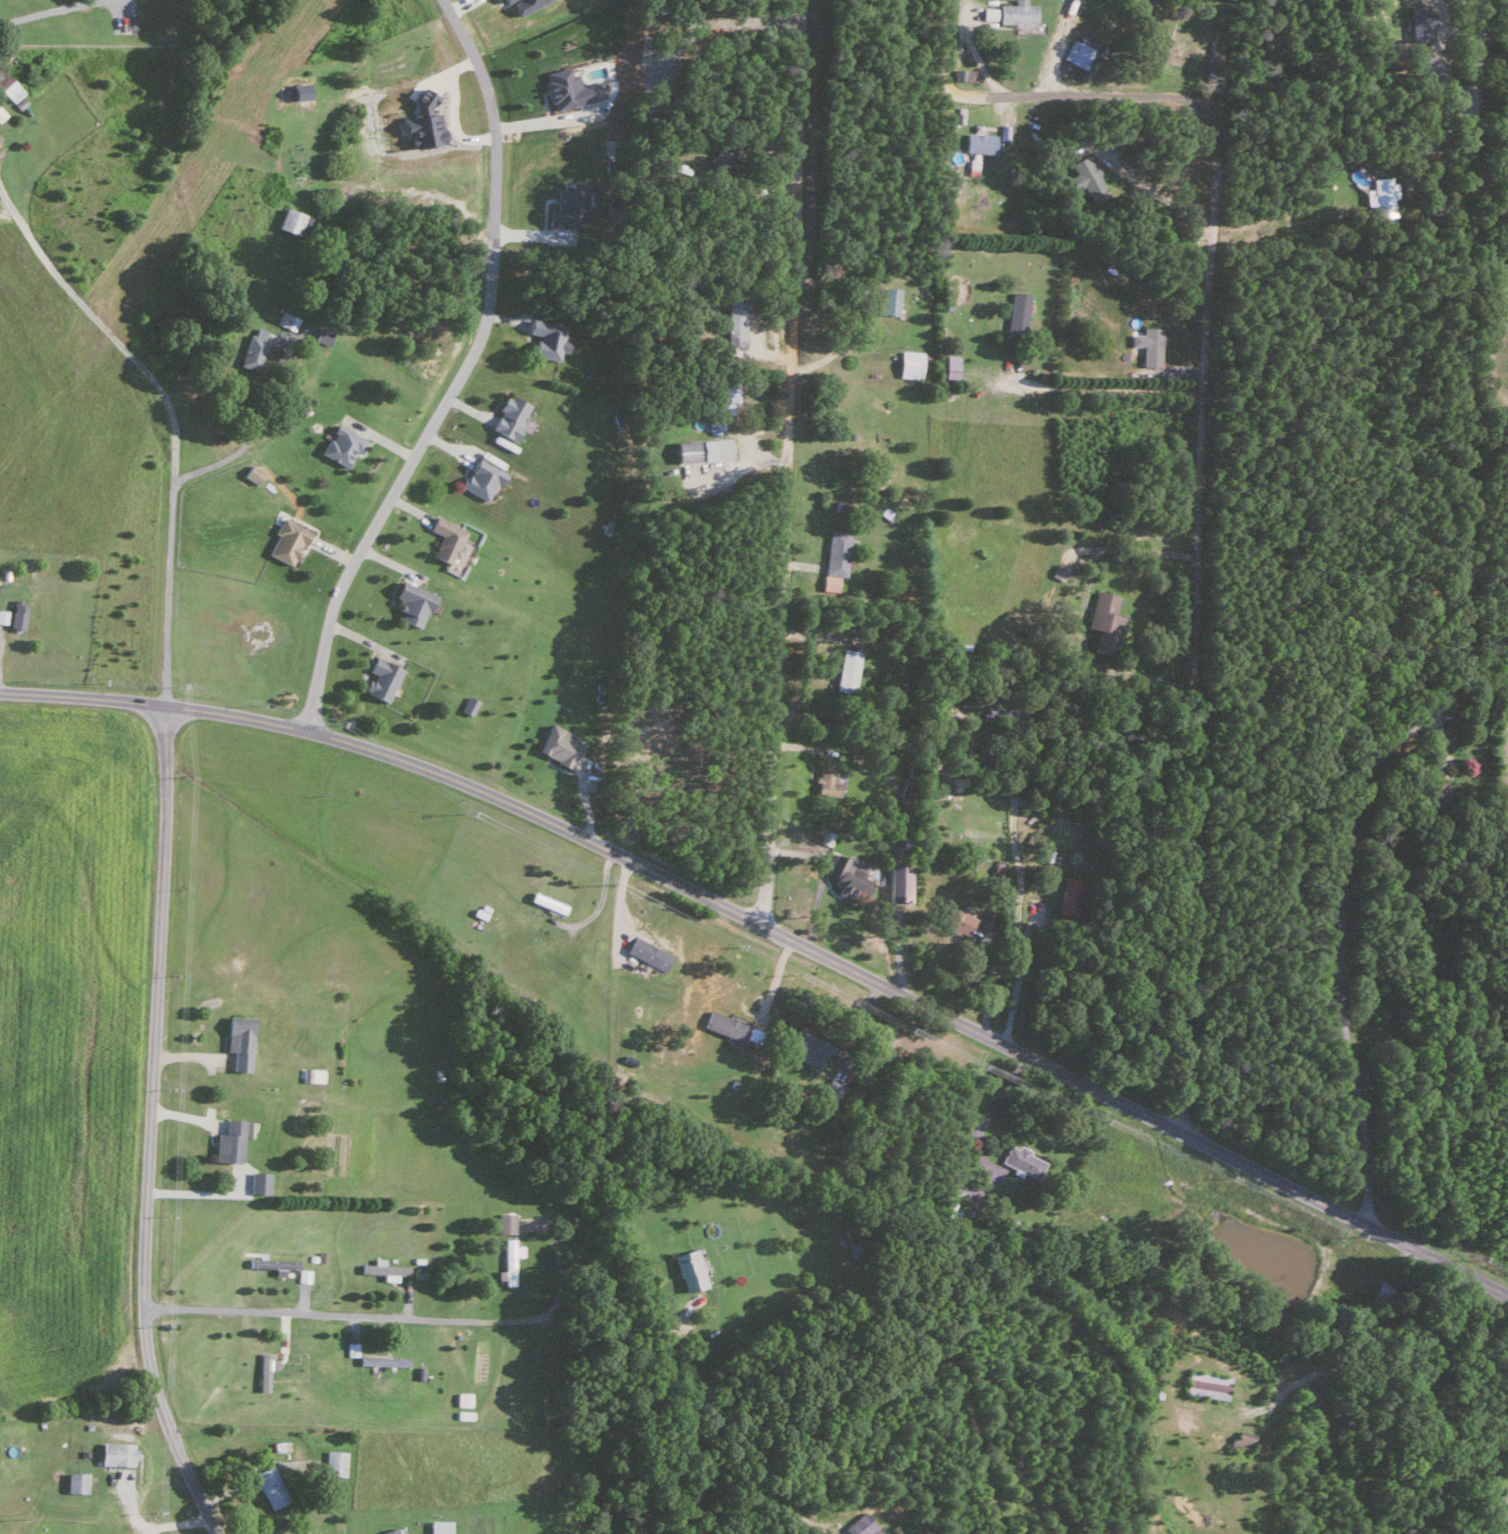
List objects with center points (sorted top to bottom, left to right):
building: (502, 0)
building: (1149, 0)
building: (524, 4)
road: (47, 11)
building: (1015, 11)
building: (987, 12)
building: (1419, 21)
building: (1077, 52)
building: (1156, 52)
building: (963, 73)
building: (9, 85)
building: (568, 87)
building: (297, 92)
building: (421, 97)
road: (548, 119)
building: (422, 128)
building: (978, 142)
road: (1131, 174)
building: (1083, 178)
building: (1383, 194)
building: (567, 204)
building: (288, 219)
building: (887, 300)
building: (1016, 311)
building: (733, 322)
building: (322, 334)
building: (545, 338)
building: (1150, 345)
building: (251, 348)
building: (908, 363)
road: (460, 375)
road: (1107, 387)
building: (720, 400)
building: (507, 416)
road: (172, 419)
road: (243, 441)
building: (340, 444)
road: (1199, 447)
building: (701, 449)
road: (786, 463)
building: (251, 473)
building: (478, 478)
building: (445, 538)
building: (286, 540)
building: (834, 552)
building: (411, 602)
road: (1081, 612)
building: (3, 615)
building: (15, 615)
building: (1102, 621)
road: (1467, 634)
building: (845, 670)
building: (380, 678)
road: (83, 698)
building: (467, 705)
building: (557, 744)
building: (823, 777)
building: (1435, 791)
building: (825, 837)
building: (846, 874)
road: (820, 876)
building: (897, 882)
road: (1019, 895)
building: (1068, 896)
building: (546, 902)
building: (956, 918)
building: (646, 953)
road: (848, 968)
road: (987, 986)
building: (724, 1025)
building: (236, 1041)
building: (809, 1048)
building: (310, 1074)
building: (831, 1087)
road: (149, 1127)
building: (228, 1141)
building: (1019, 1160)
building: (257, 1182)
building: (504, 1222)
building: (507, 1261)
building: (271, 1263)
building: (381, 1268)
building: (687, 1270)
road: (555, 1297)
road: (309, 1315)
building: (351, 1349)
building: (381, 1360)
building: (264, 1370)
building: (1205, 1385)
building: (461, 1399)
building: (463, 1414)
road: (616, 1415)
building: (1241, 1441)
building: (115, 1453)
building: (333, 1463)
road: (736, 1478)
building: (75, 1482)
building: (268, 1487)
power substation: (1505, 1506)
road: (174, 1525)
building: (859, 1525)
building: (439, 1527)
building: (390, 1531)
building: (874, 1531)

